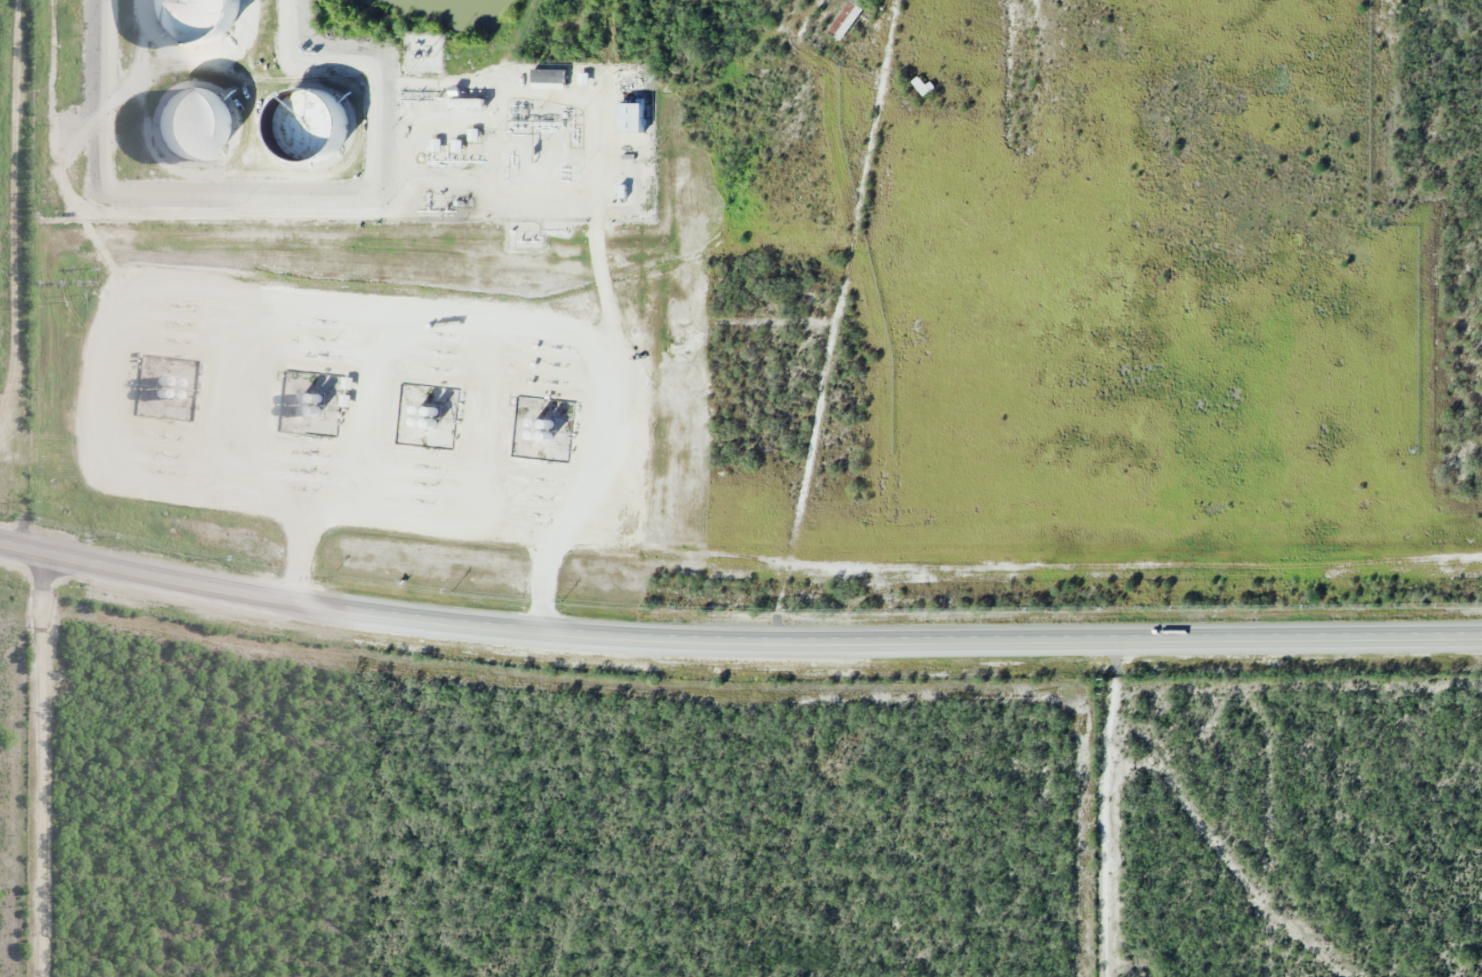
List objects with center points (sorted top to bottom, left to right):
building: (204, 18)
storage tank: (204, 18)
building: (844, 20)
building: (548, 74)
building: (921, 85)
building: (630, 110)
building: (206, 126)
storage tank: (206, 126)
building: (320, 128)
storage tank: (320, 128)
road: (16, 216)
road: (834, 327)
road: (736, 644)
road: (38, 766)
road: (1106, 812)

